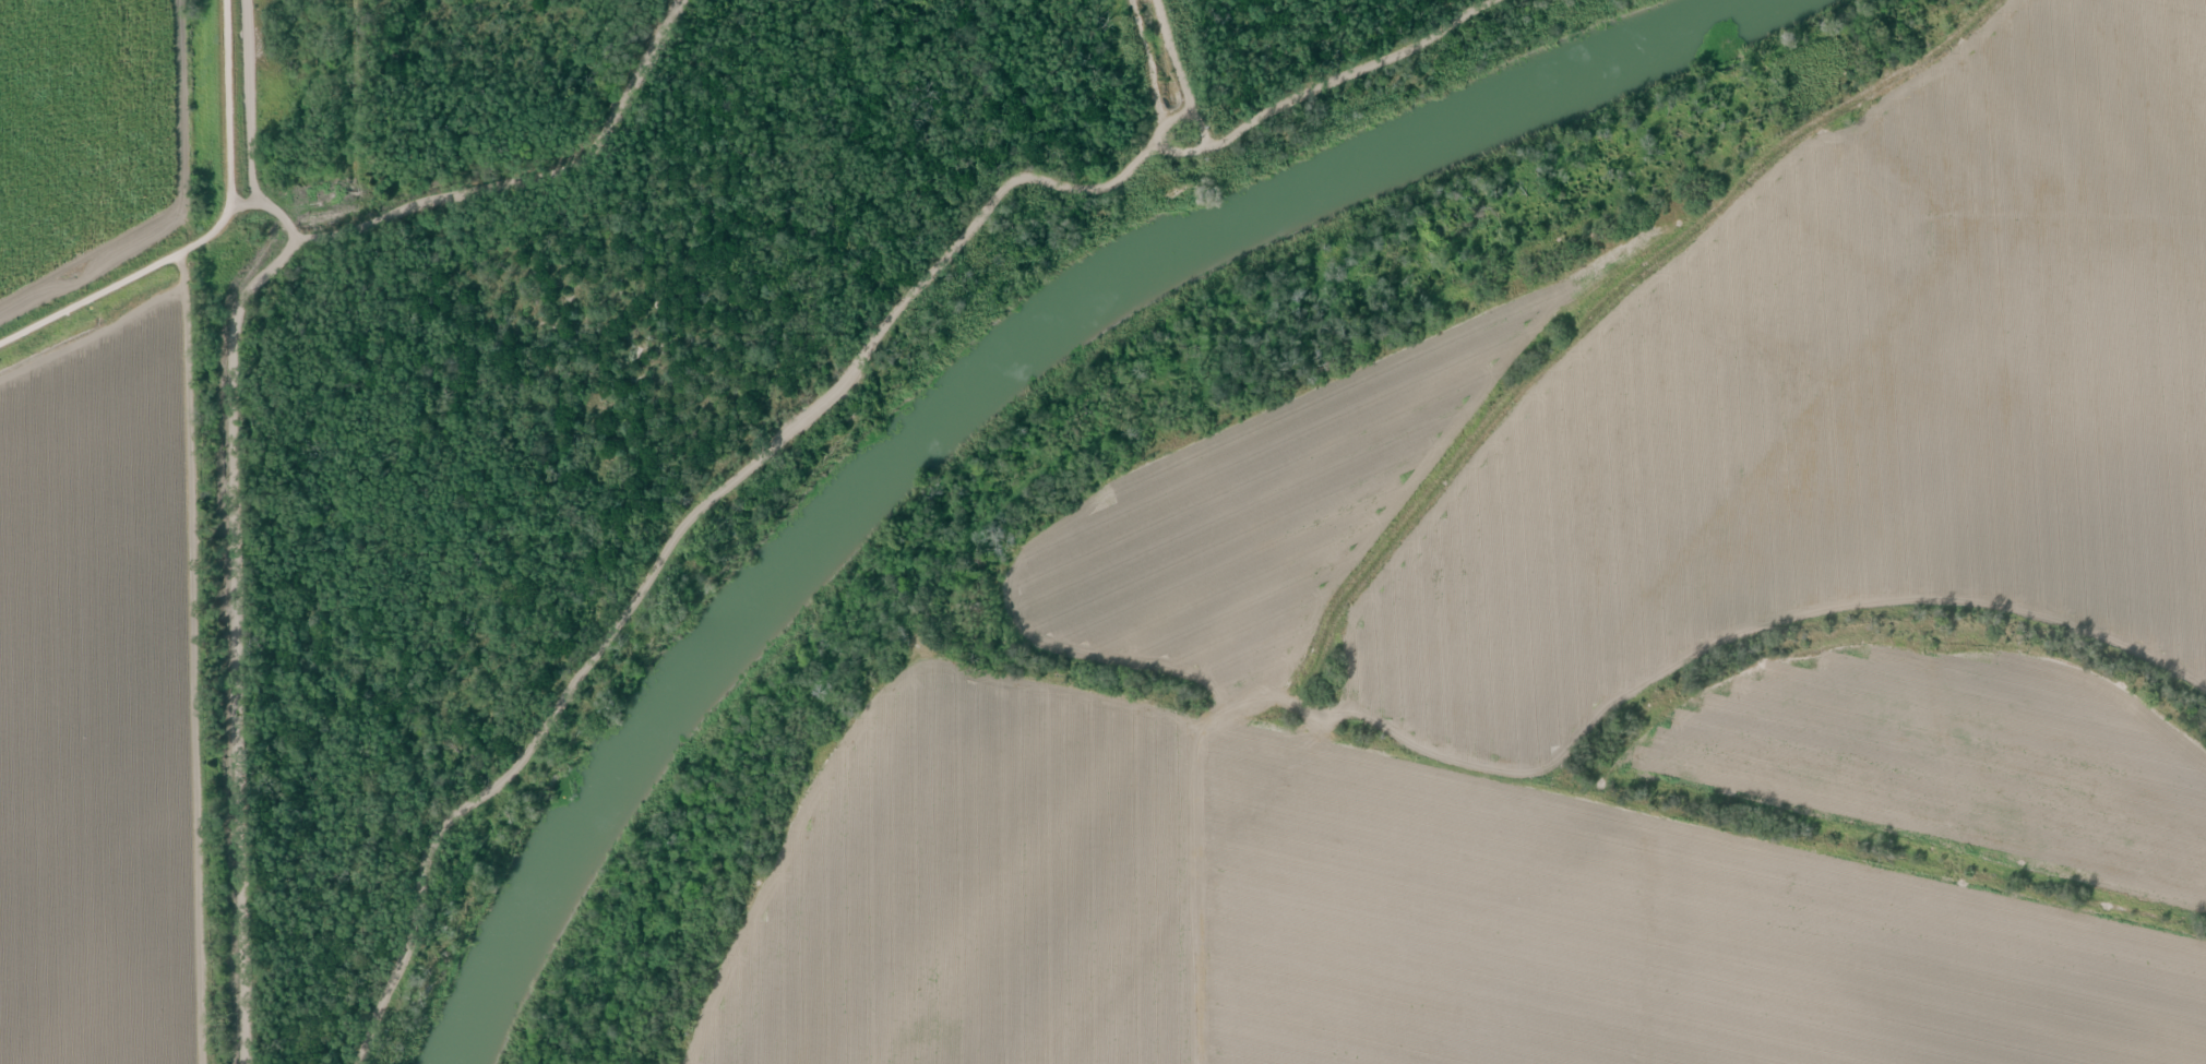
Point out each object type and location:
road: (211, 235)
river: (975, 395)

